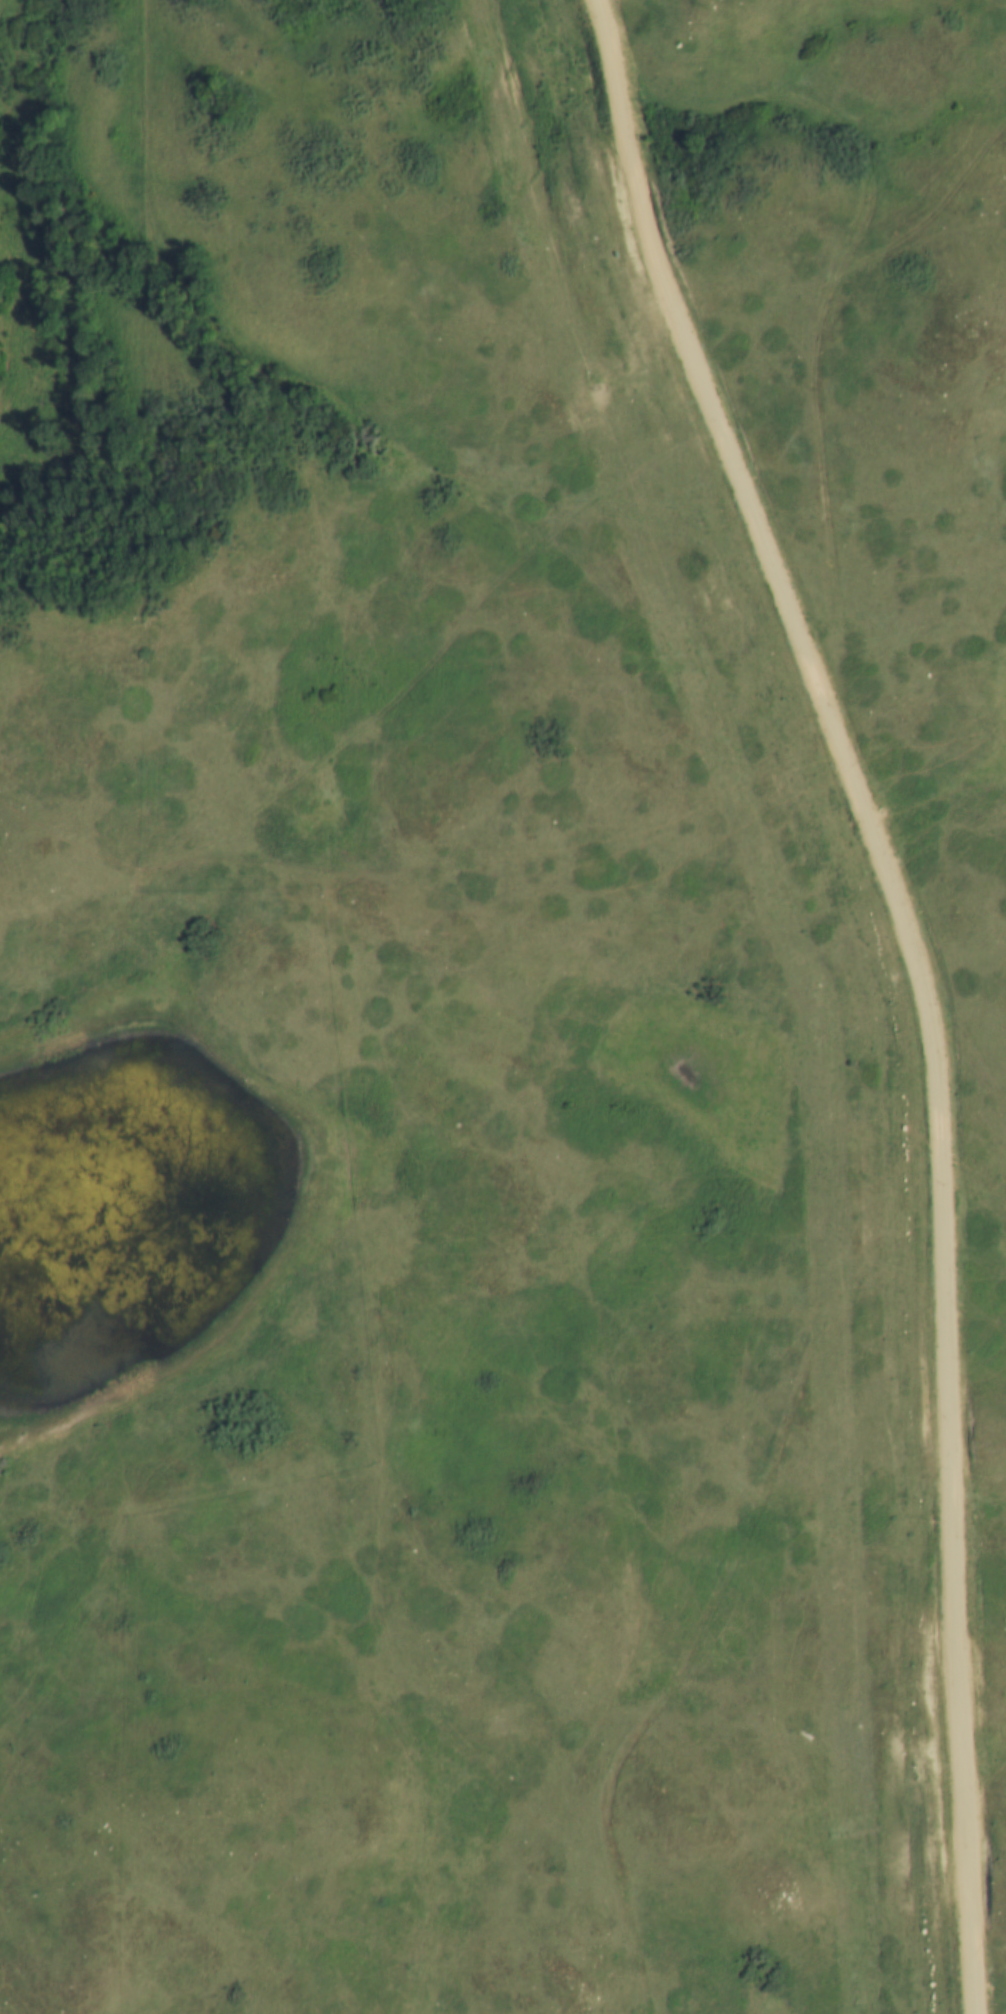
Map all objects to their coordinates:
road: (624, 437)
road: (930, 976)

